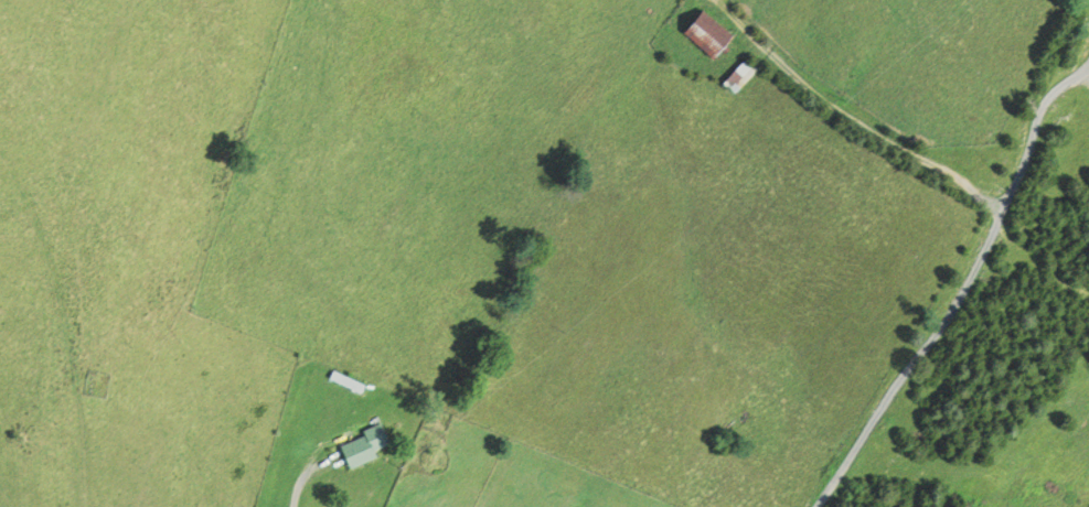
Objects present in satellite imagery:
building: (711, 36)
road: (1085, 75)
building: (744, 76)
road: (852, 117)
road: (962, 287)
building: (366, 446)
road: (300, 484)

